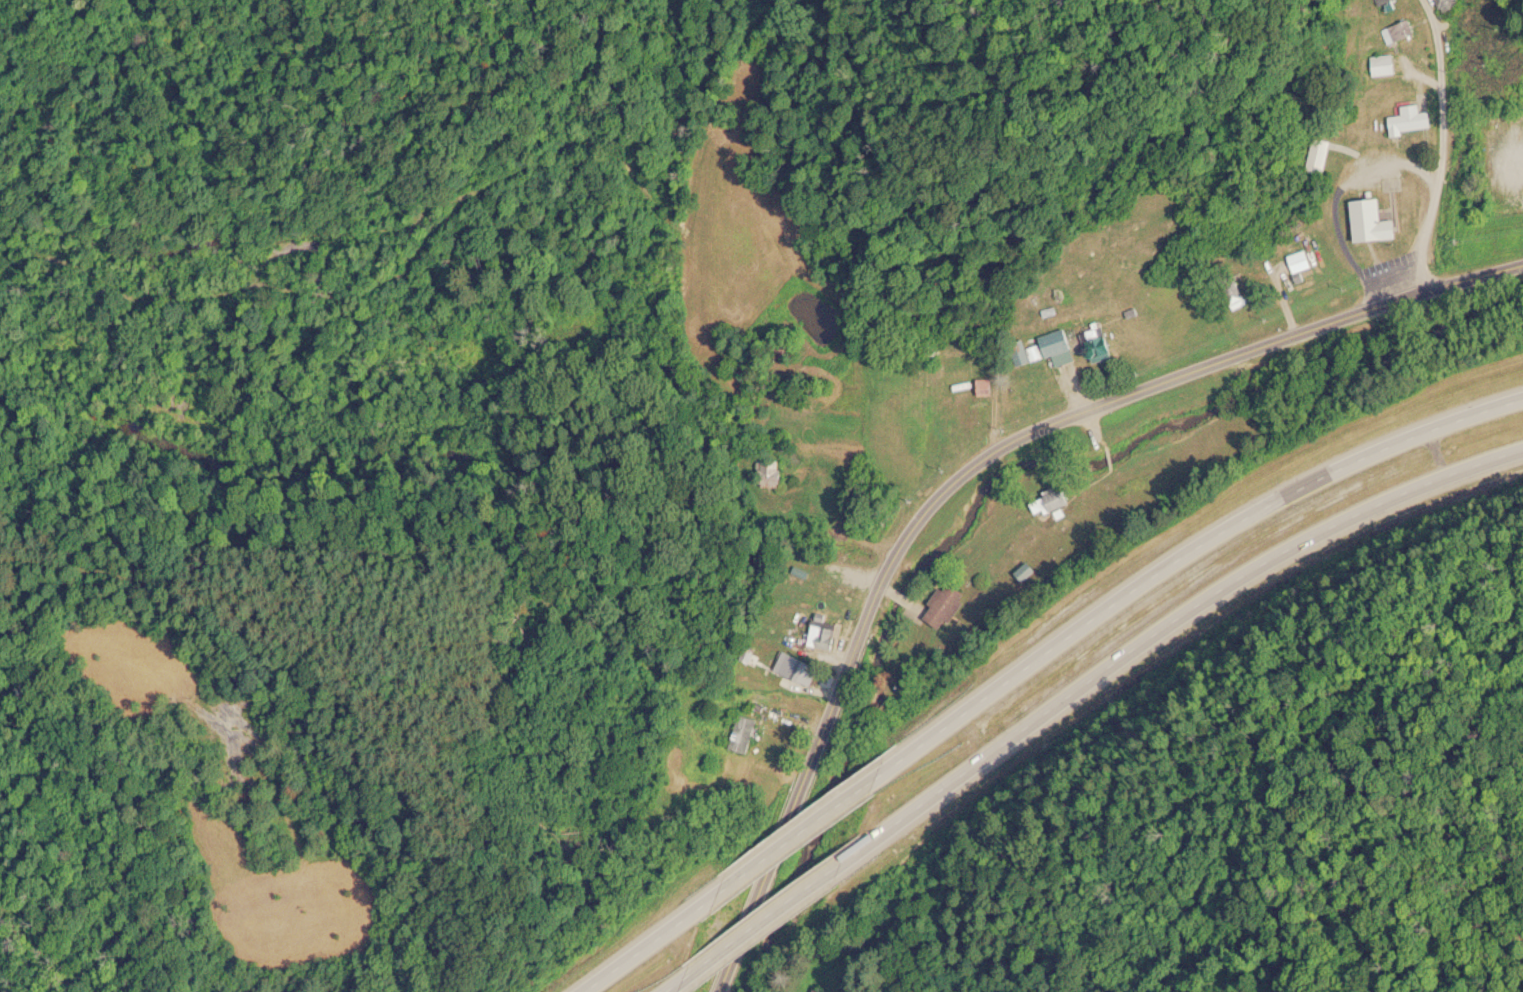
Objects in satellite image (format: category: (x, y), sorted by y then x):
building: (1384, 1)
building: (1450, 4)
building: (1401, 31)
building: (1386, 64)
building: (1414, 119)
road: (1440, 144)
building: (1377, 221)
building: (1301, 260)
building: (1056, 343)
building: (1099, 346)
building: (1027, 354)
building: (987, 387)
road: (972, 468)
building: (774, 473)
building: (1049, 503)
road: (1190, 543)
road: (1190, 610)
building: (825, 632)
building: (799, 668)
building: (745, 733)
road: (808, 827)
road: (803, 896)
road: (651, 943)
road: (691, 977)
building: (816, 990)

